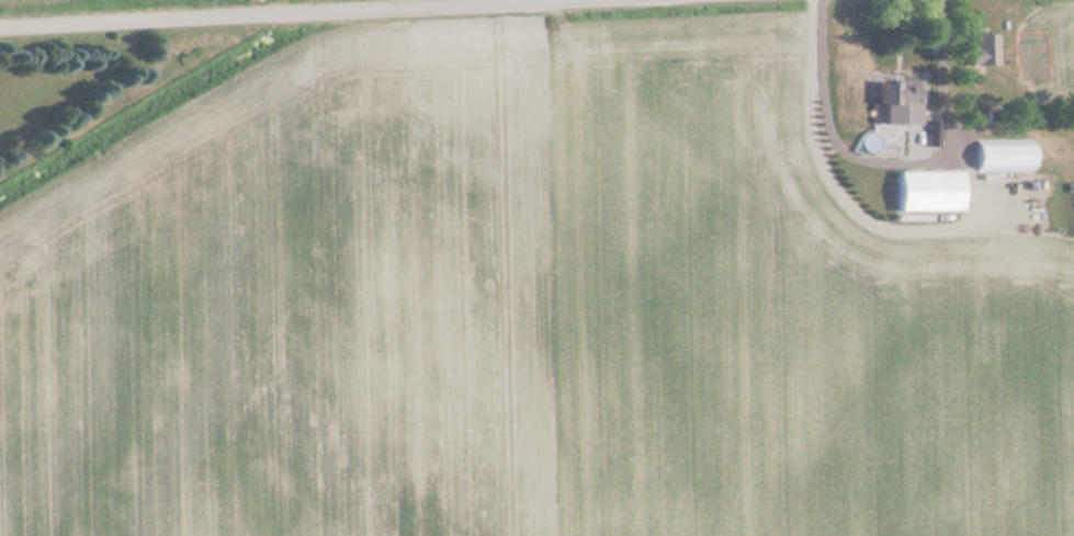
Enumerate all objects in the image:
road: (292, 14)
building: (981, 50)
building: (897, 103)
building: (1002, 156)
road: (902, 162)
building: (927, 193)
road: (872, 220)

